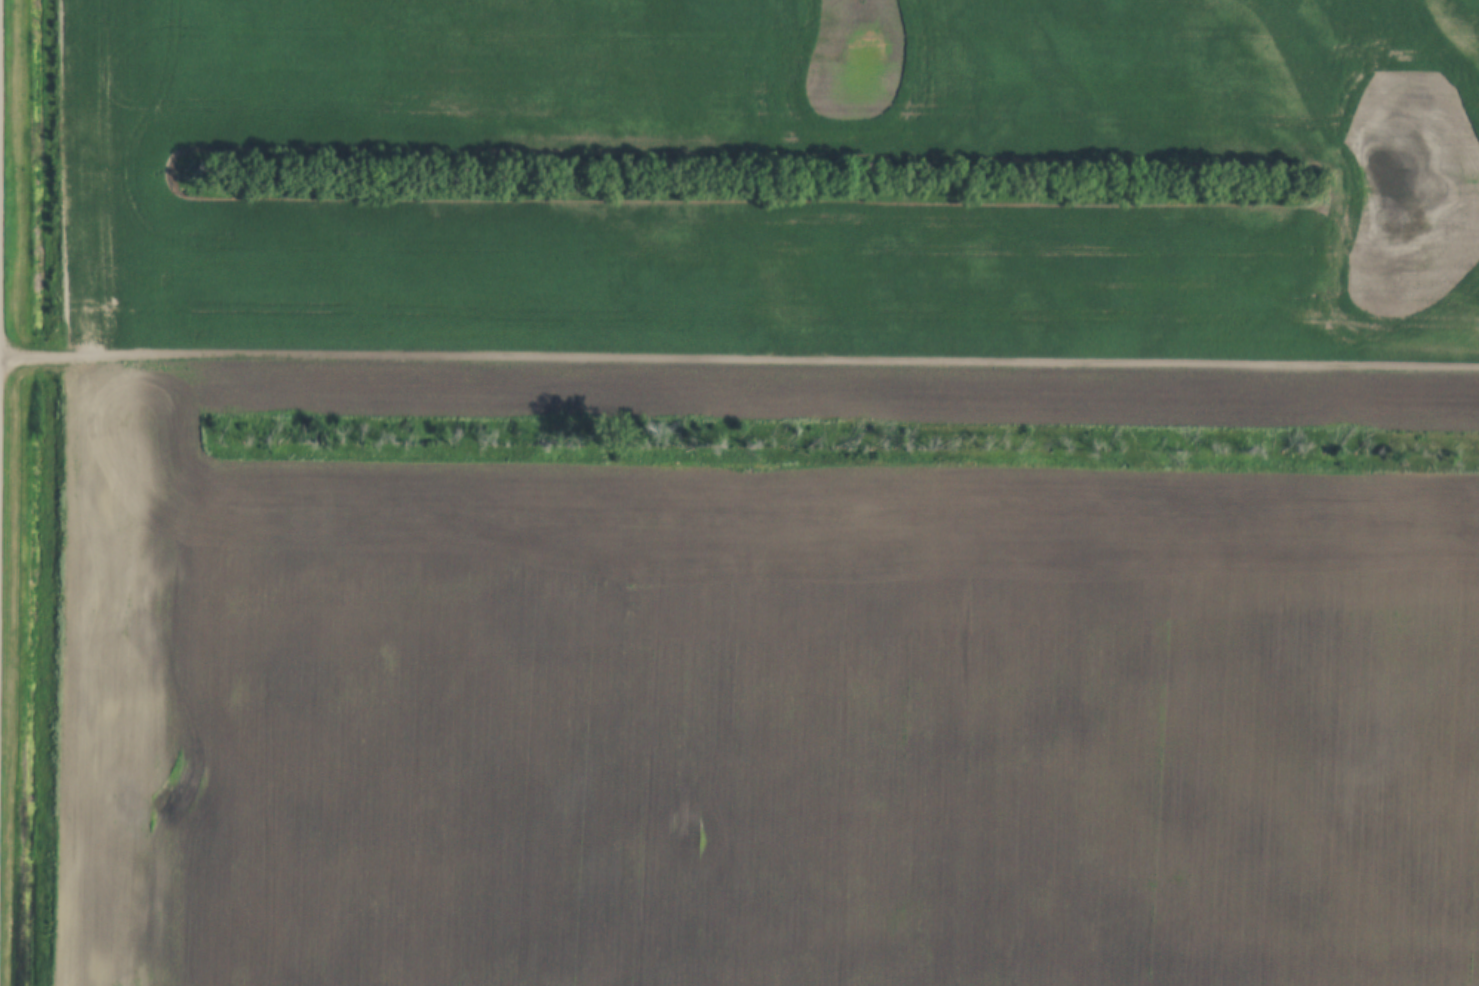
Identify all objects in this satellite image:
quarry: (1378, 155)
road: (739, 363)

